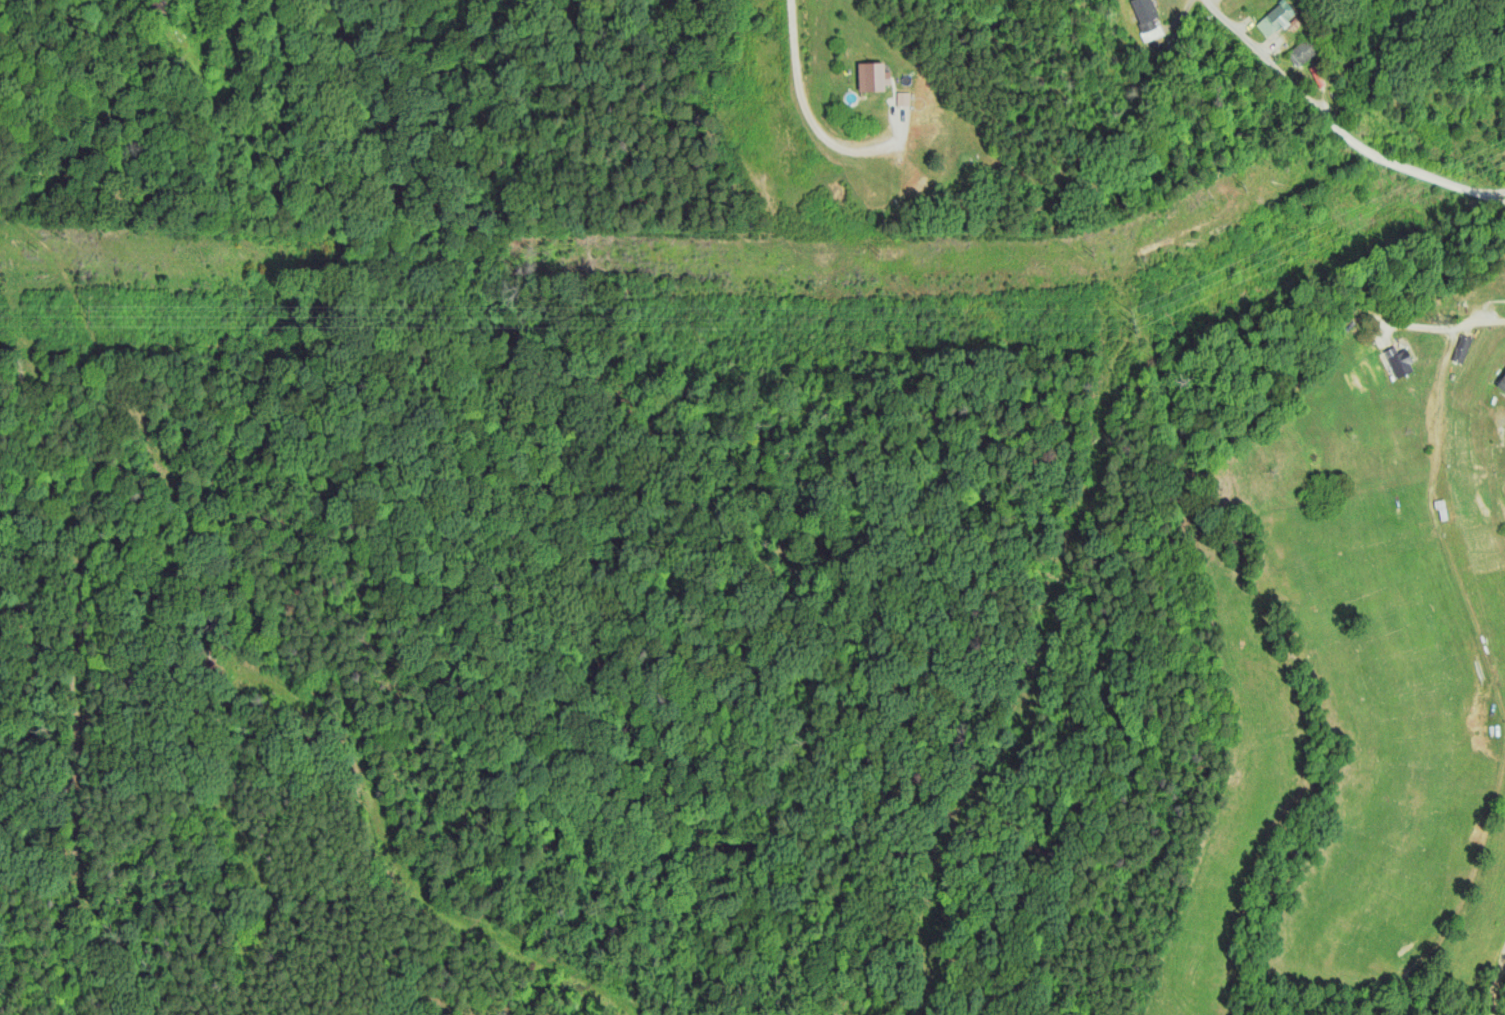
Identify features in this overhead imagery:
building: (1146, 17)
building: (1274, 18)
road: (1230, 23)
building: (1301, 52)
building: (871, 76)
building: (902, 98)
road: (810, 115)
road: (1363, 149)
road: (1494, 194)
road: (1446, 328)
building: (1460, 348)
building: (1398, 361)
building: (1501, 382)
road: (1492, 989)

